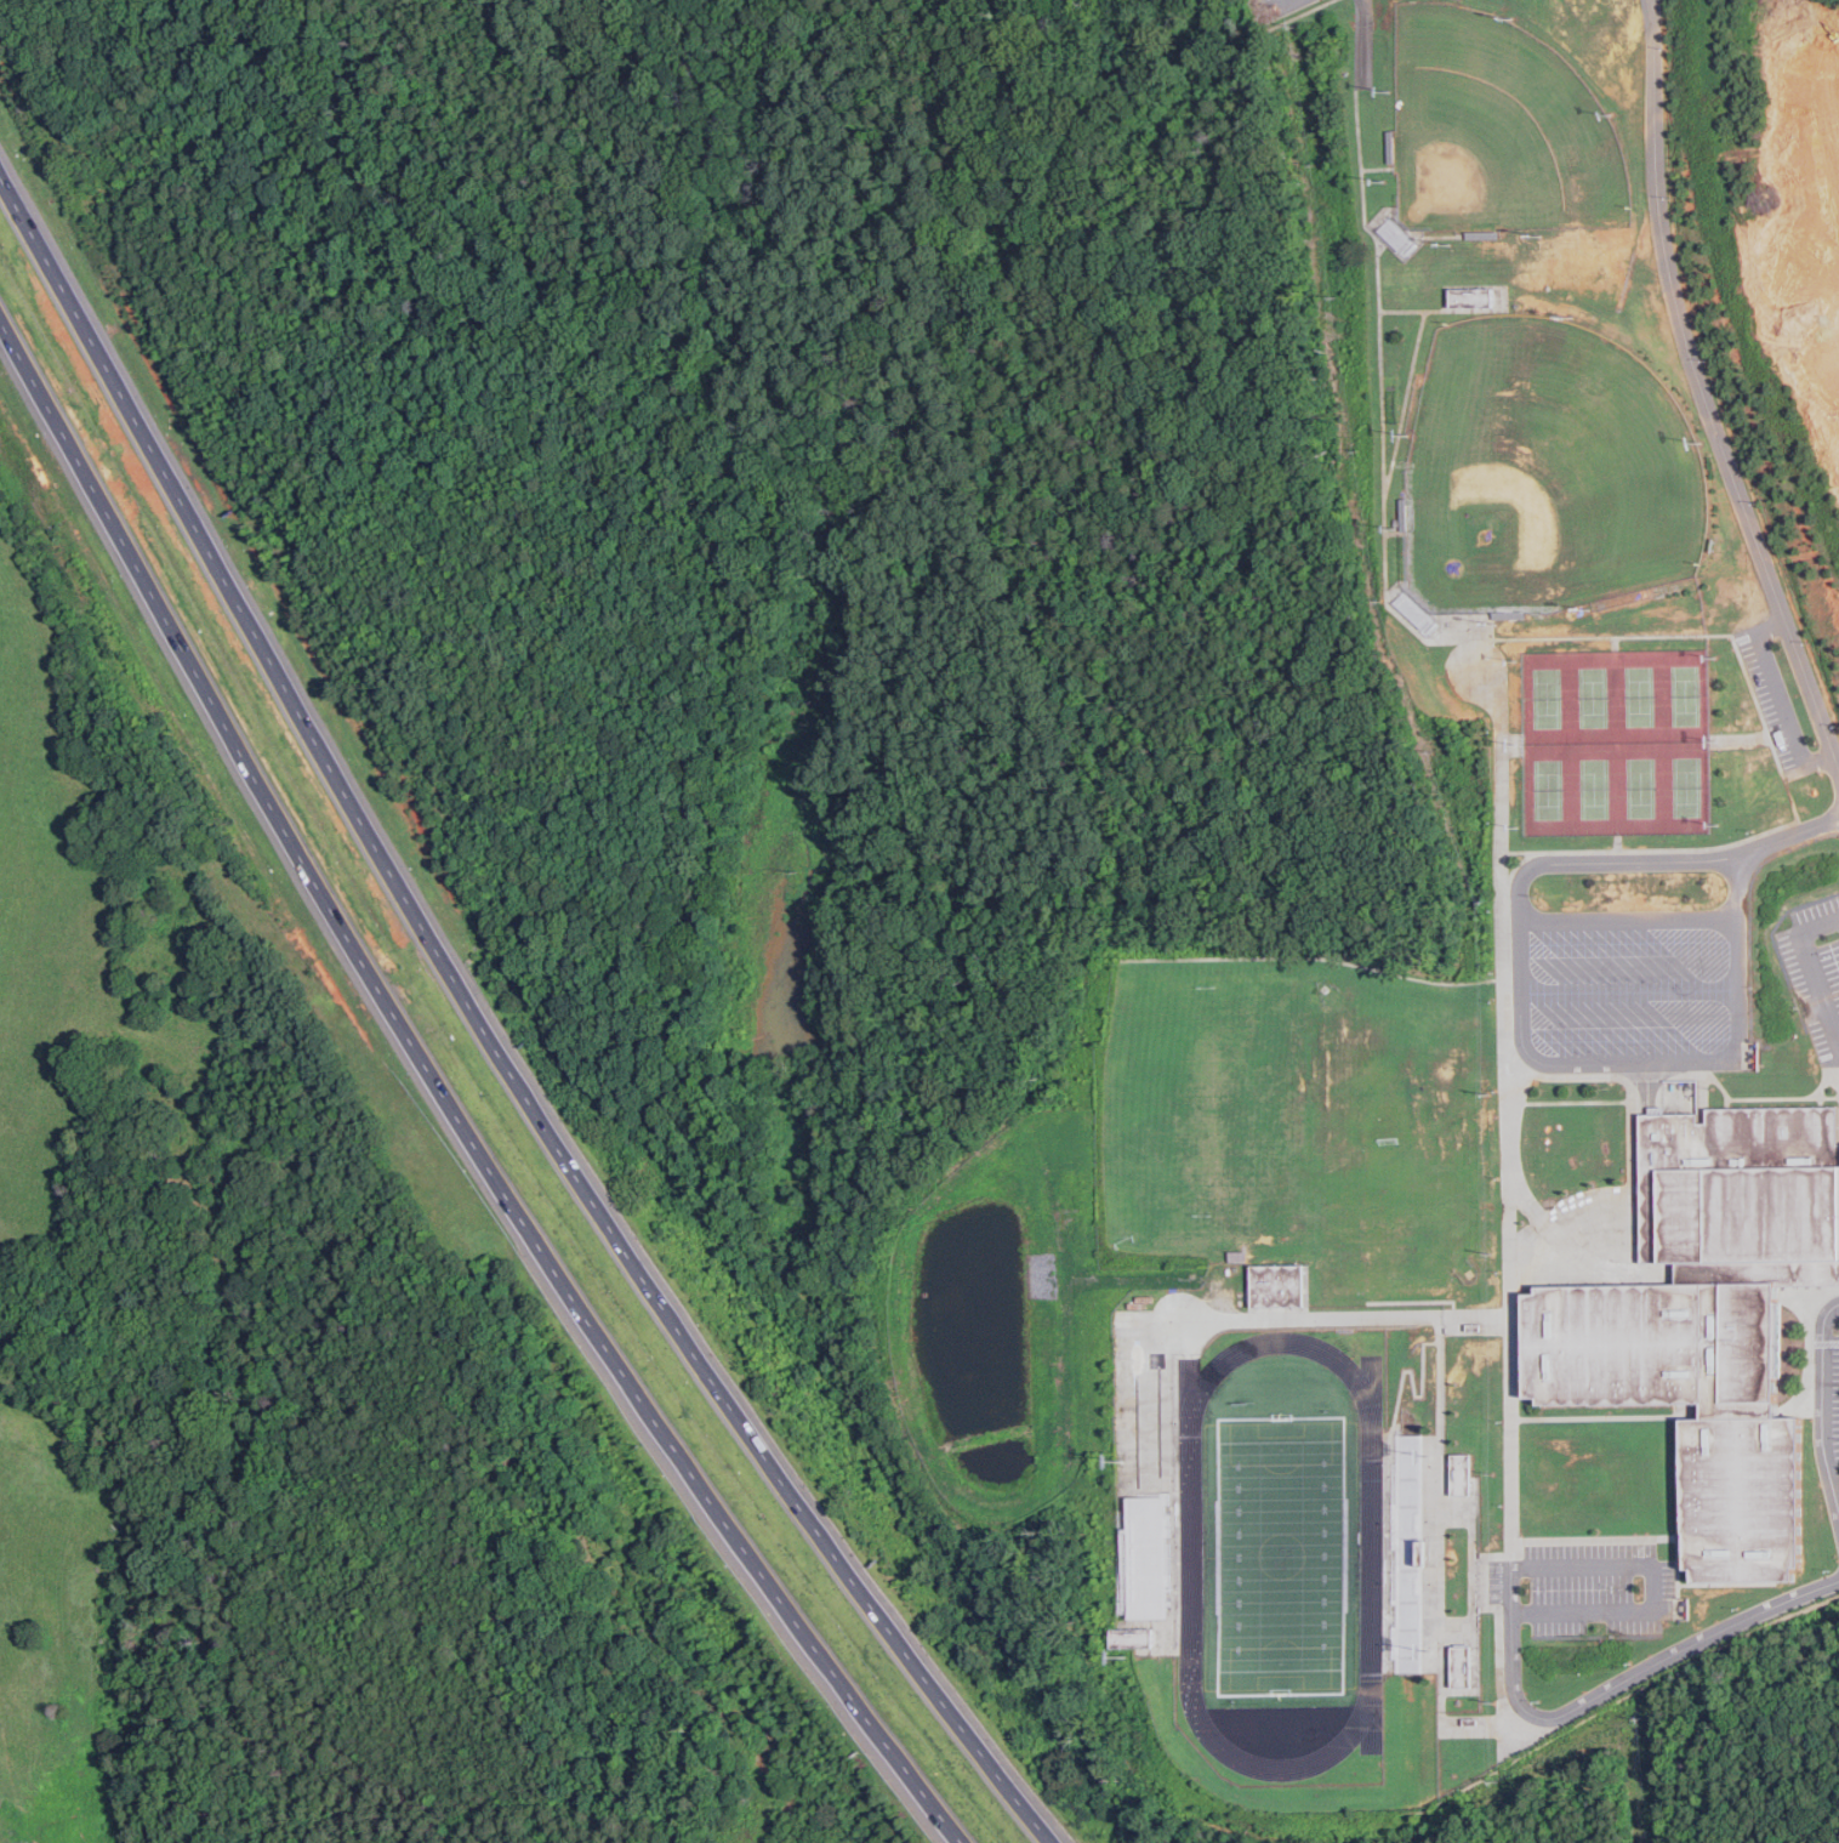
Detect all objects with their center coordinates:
road: (1270, 5)
park: (1499, 127)
road: (1702, 399)
park: (1545, 472)
road: (1788, 835)
road: (1811, 972)
road: (485, 1035)
road: (1535, 1058)
road: (446, 1104)
road: (1507, 1114)
building: (1279, 1284)
building: (1712, 1321)
road: (1828, 1343)
road: (1826, 1397)
parking lot: (1828, 1399)
road: (1793, 1400)
building: (1465, 1474)
building: (1410, 1552)
track: (1192, 1554)
building: (1151, 1555)
park: (1282, 1555)
road: (1653, 1587)
building: (1138, 1638)
road: (1616, 1686)

